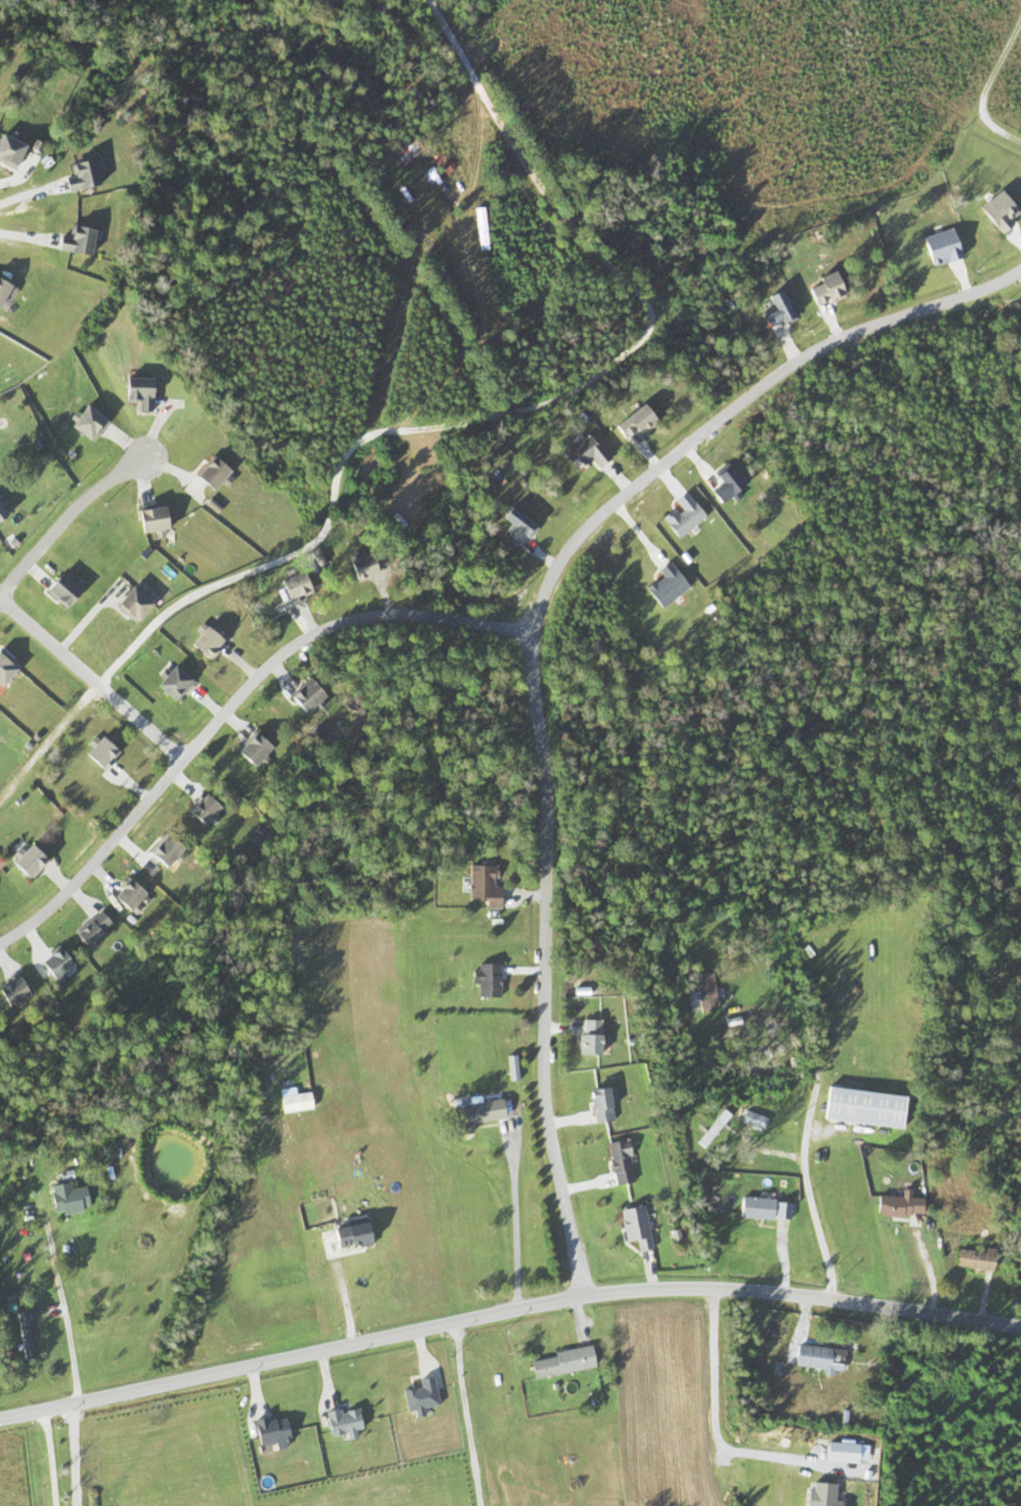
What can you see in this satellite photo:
building: (8, 150)
building: (404, 151)
building: (442, 163)
building: (79, 174)
building: (73, 239)
building: (3, 290)
building: (136, 392)
building: (85, 422)
road: (465, 424)
building: (207, 472)
building: (1, 511)
road: (60, 518)
building: (150, 520)
building: (359, 567)
building: (291, 586)
building: (59, 589)
building: (129, 603)
building: (202, 642)
road: (532, 650)
road: (89, 678)
building: (169, 682)
building: (303, 696)
road: (233, 701)
building: (249, 749)
building: (97, 752)
building: (199, 809)
building: (162, 848)
building: (25, 861)
building: (483, 885)
building: (124, 894)
building: (89, 929)
building: (52, 964)
building: (485, 979)
building: (11, 991)
building: (704, 991)
building: (588, 1037)
building: (599, 1105)
building: (862, 1107)
building: (474, 1114)
building: (619, 1162)
building: (65, 1198)
building: (897, 1205)
building: (763, 1209)
building: (634, 1226)
building: (973, 1259)
road: (507, 1310)
building: (813, 1357)
building: (562, 1362)

